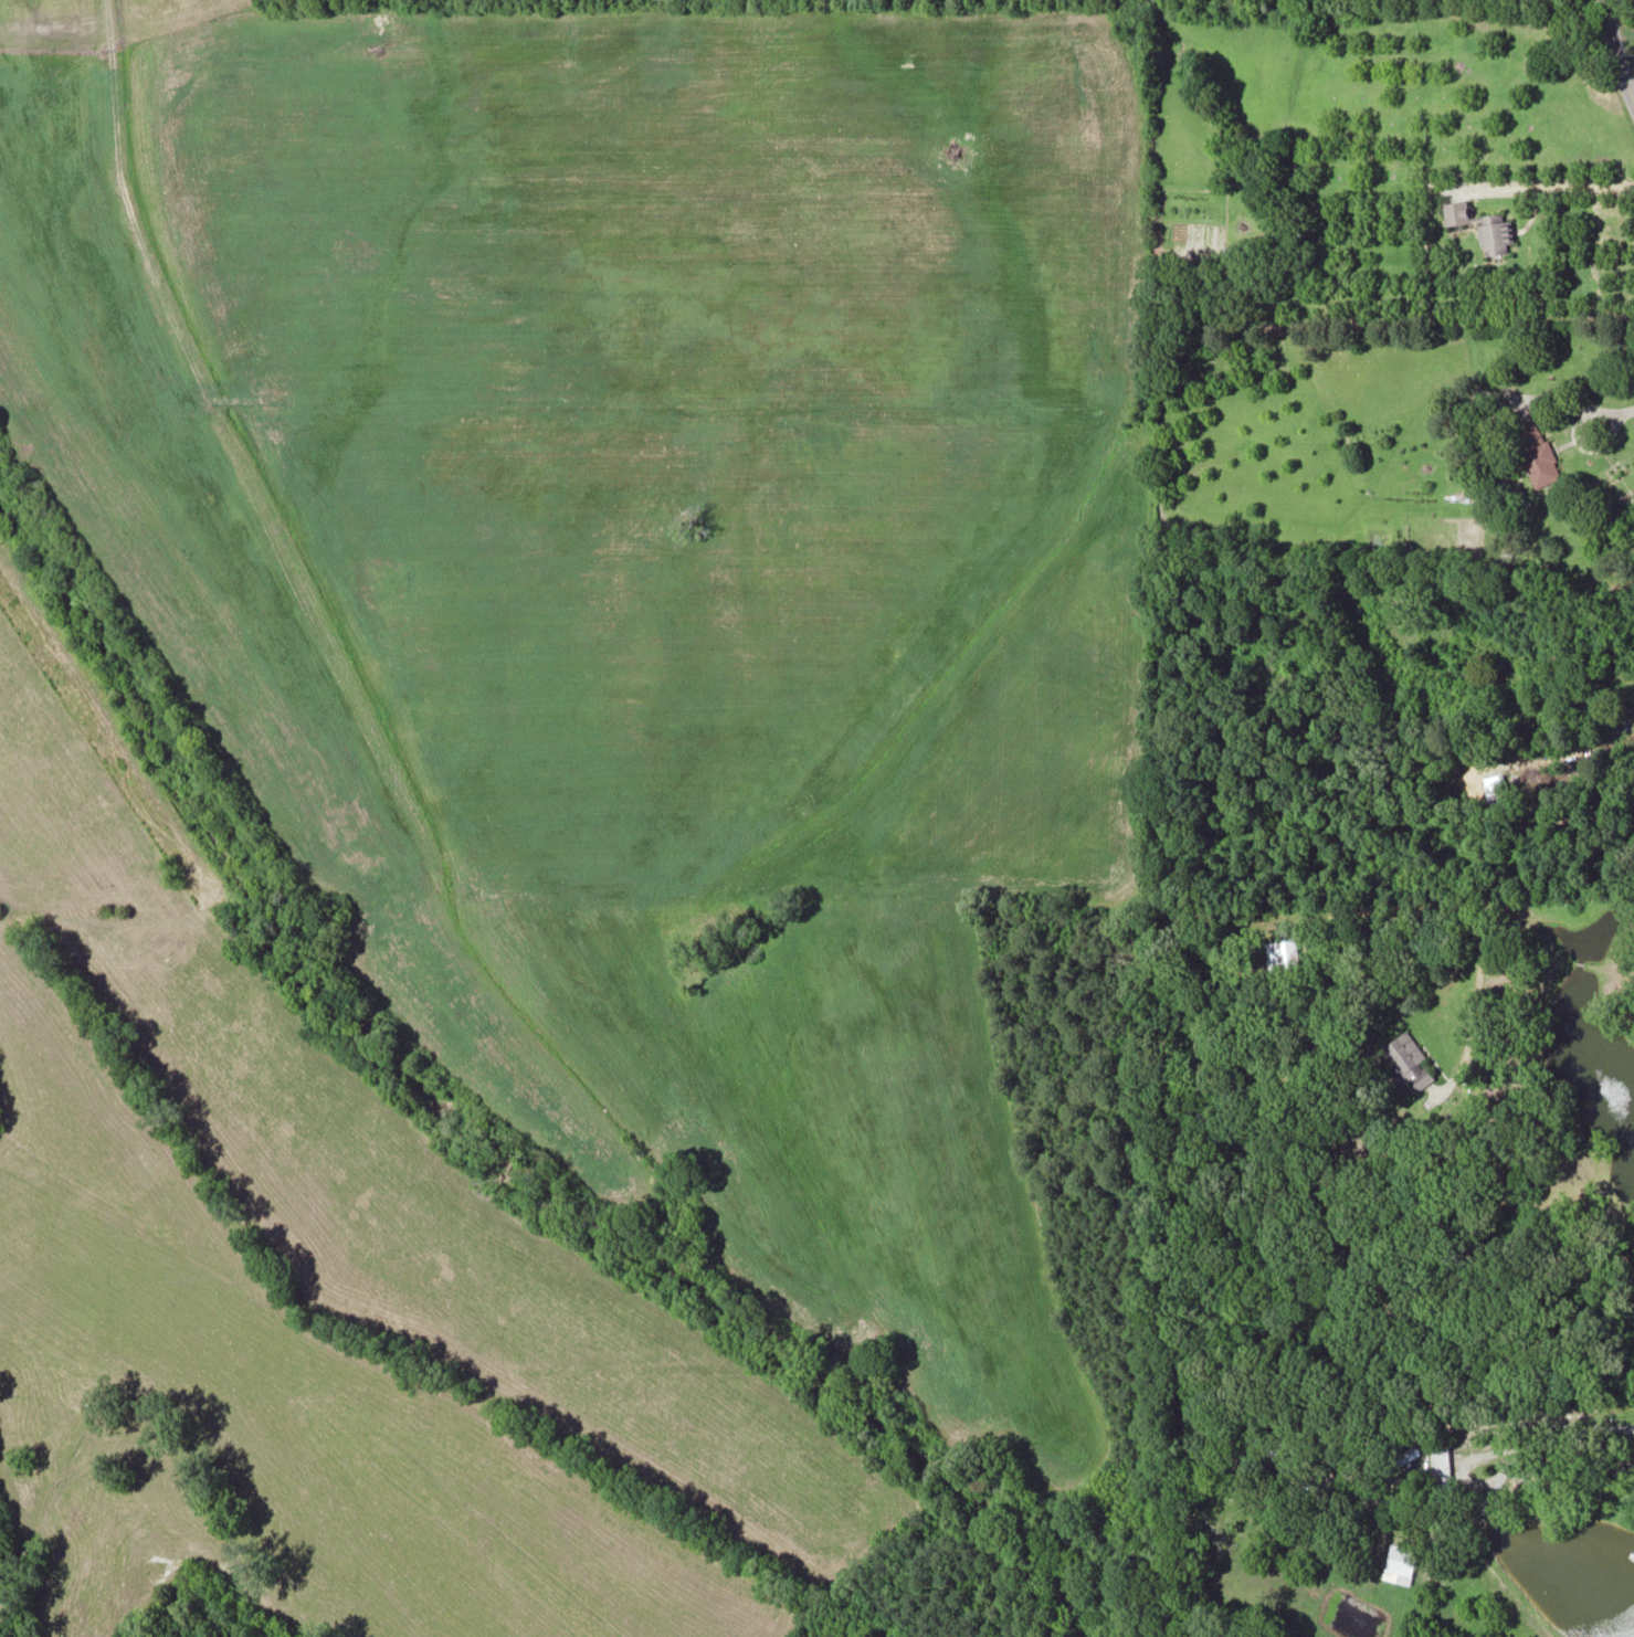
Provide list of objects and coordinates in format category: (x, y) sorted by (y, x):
road: (1616, 53)
road: (1553, 184)
building: (1456, 212)
building: (1494, 233)
road: (1624, 410)
road: (1572, 437)
building: (1533, 451)
road: (1585, 896)
building: (1283, 952)
building: (1409, 1059)
road: (1529, 1444)
building: (1395, 1459)
building: (1399, 1562)

